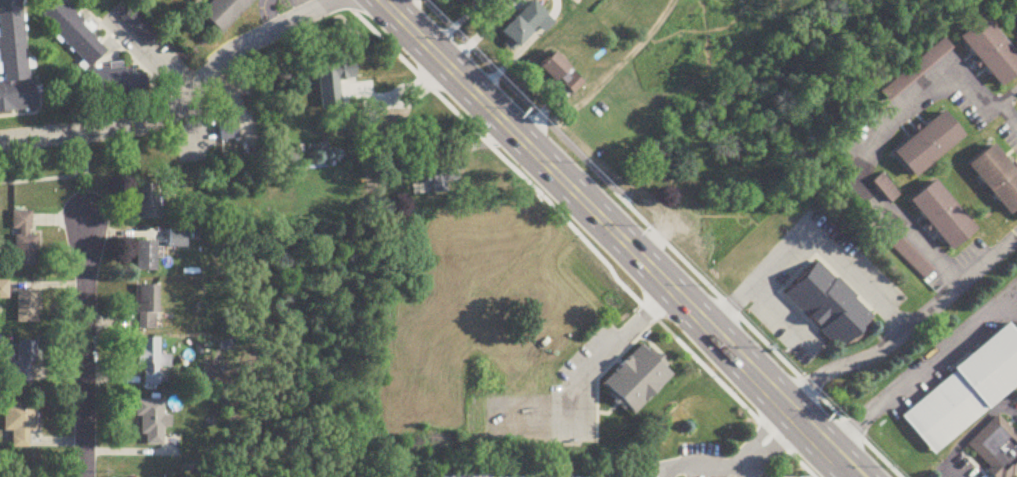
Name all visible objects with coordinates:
building: (186, 0)
building: (472, 1)
building: (1013, 8)
building: (224, 13)
building: (133, 19)
building: (526, 26)
building: (72, 30)
building: (13, 41)
building: (989, 52)
road: (150, 55)
building: (917, 61)
building: (562, 76)
road: (607, 78)
building: (104, 83)
building: (333, 85)
building: (16, 93)
parking lot: (969, 101)
road: (181, 103)
parking lot: (1010, 130)
road: (864, 136)
building: (926, 140)
building: (441, 175)
building: (994, 175)
building: (884, 184)
building: (150, 202)
building: (939, 211)
building: (690, 223)
road: (620, 237)
road: (589, 238)
road: (648, 238)
building: (178, 239)
building: (24, 242)
building: (905, 250)
road: (787, 251)
building: (146, 257)
parking lot: (771, 275)
building: (4, 291)
road: (730, 304)
building: (828, 305)
building: (28, 308)
building: (147, 308)
road: (643, 313)
road: (890, 314)
road: (906, 327)
road: (955, 346)
parking lot: (953, 349)
road: (85, 350)
building: (150, 362)
building: (24, 363)
building: (635, 373)
road: (574, 375)
building: (966, 392)
parking lot: (558, 398)
road: (1011, 408)
building: (151, 422)
road: (861, 422)
building: (20, 423)
road: (972, 429)
road: (770, 441)
building: (997, 448)
parking lot: (696, 462)
parking lot: (957, 466)
road: (701, 467)
road: (954, 470)
parking lot: (533, 472)
parking lot: (797, 474)
road: (853, 475)

